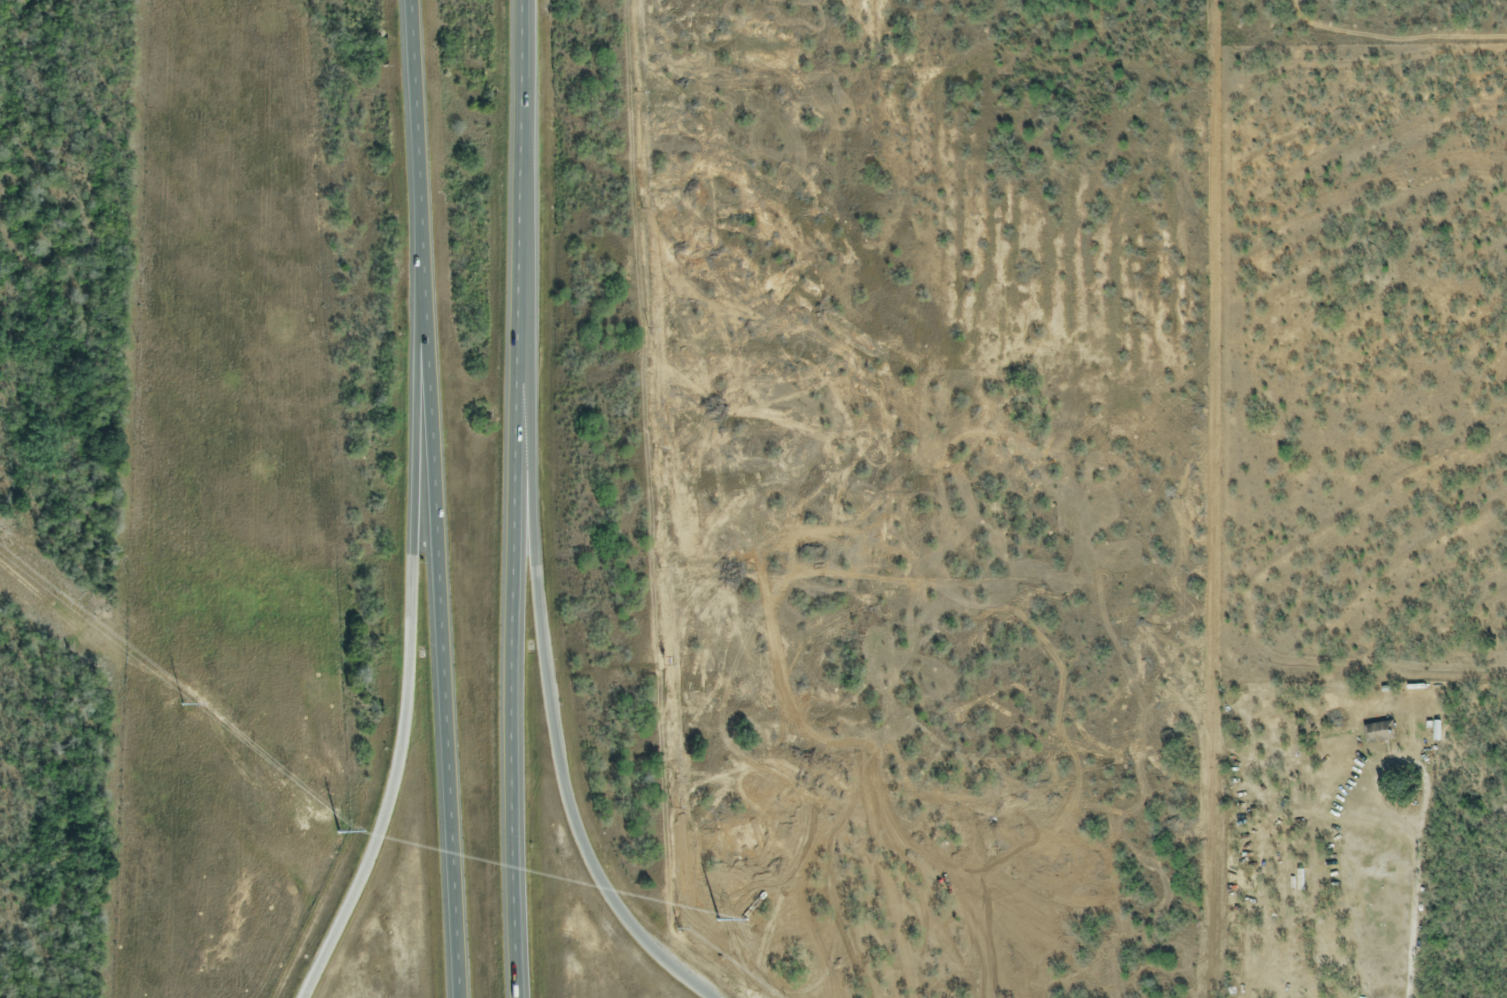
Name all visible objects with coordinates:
road: (422, 175)
road: (518, 498)
road: (546, 628)
road: (445, 674)
road: (409, 684)
power tower: (188, 706)
power tower: (344, 836)

